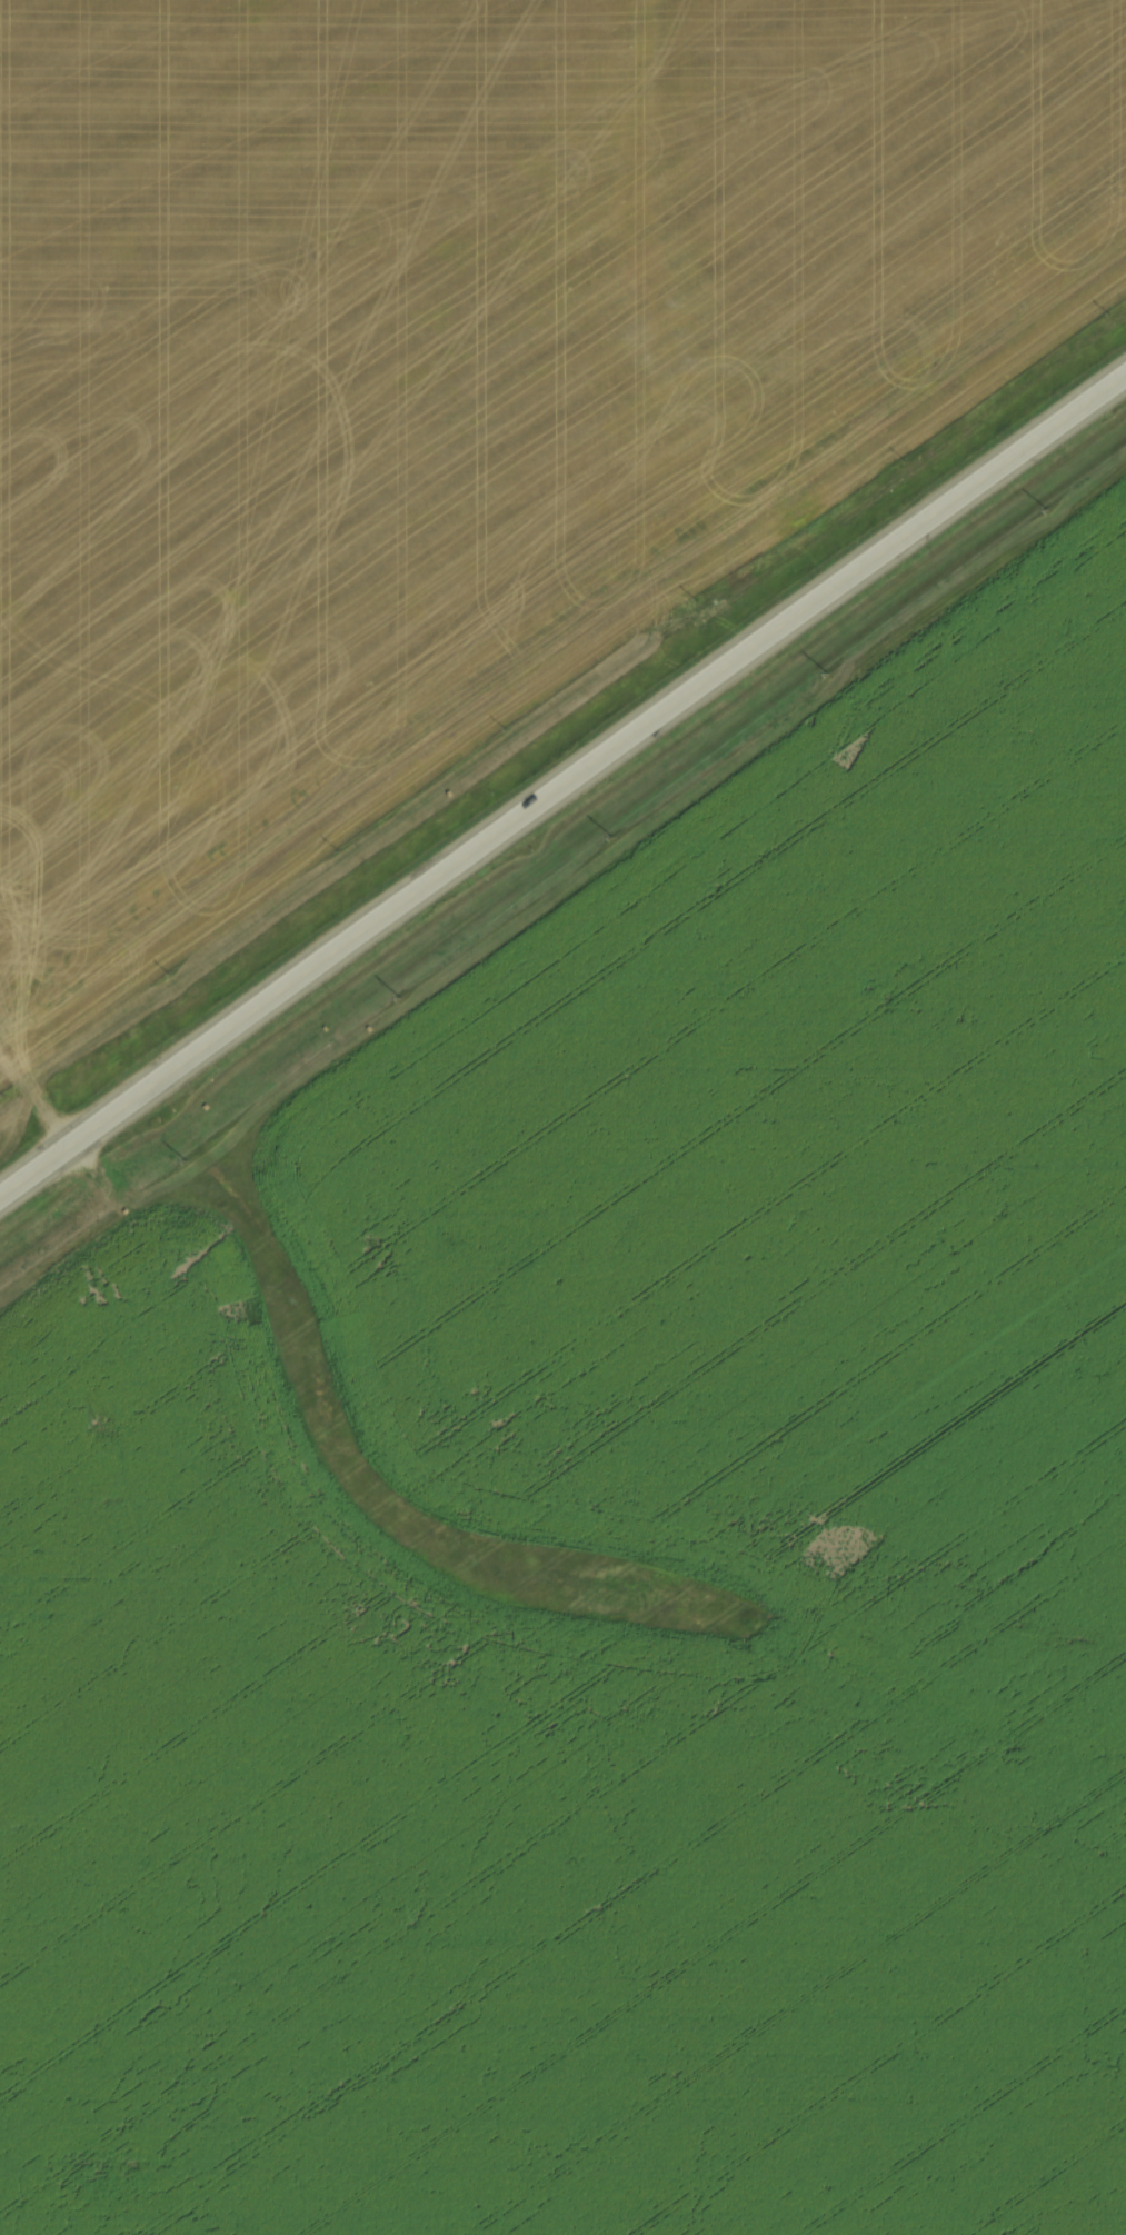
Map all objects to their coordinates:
road: (562, 789)

